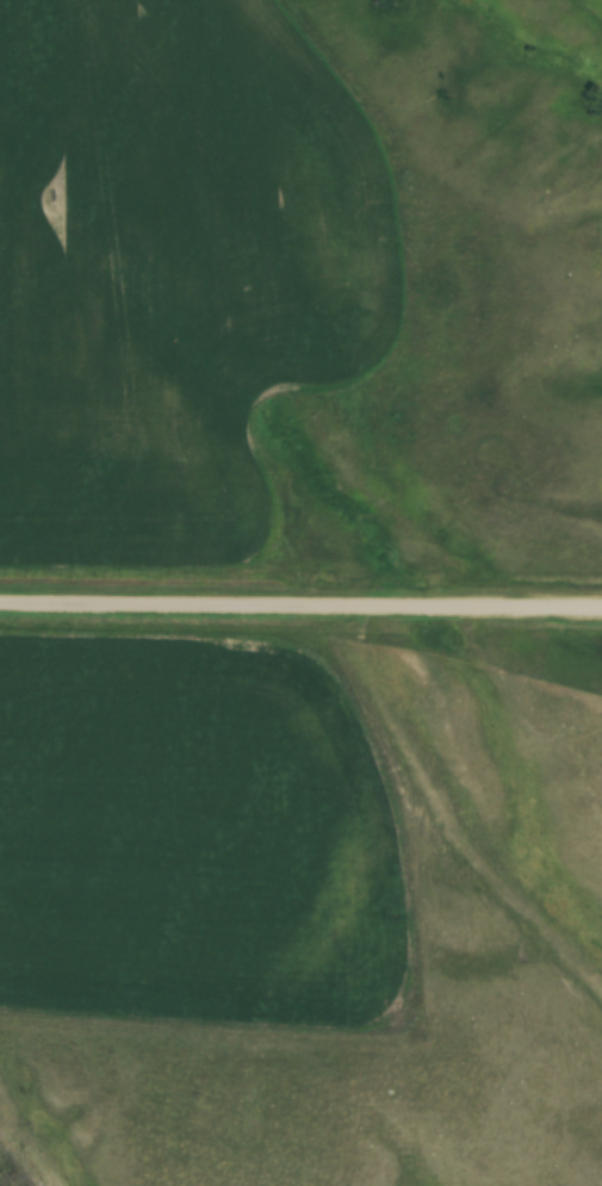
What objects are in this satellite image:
road: (300, 600)

